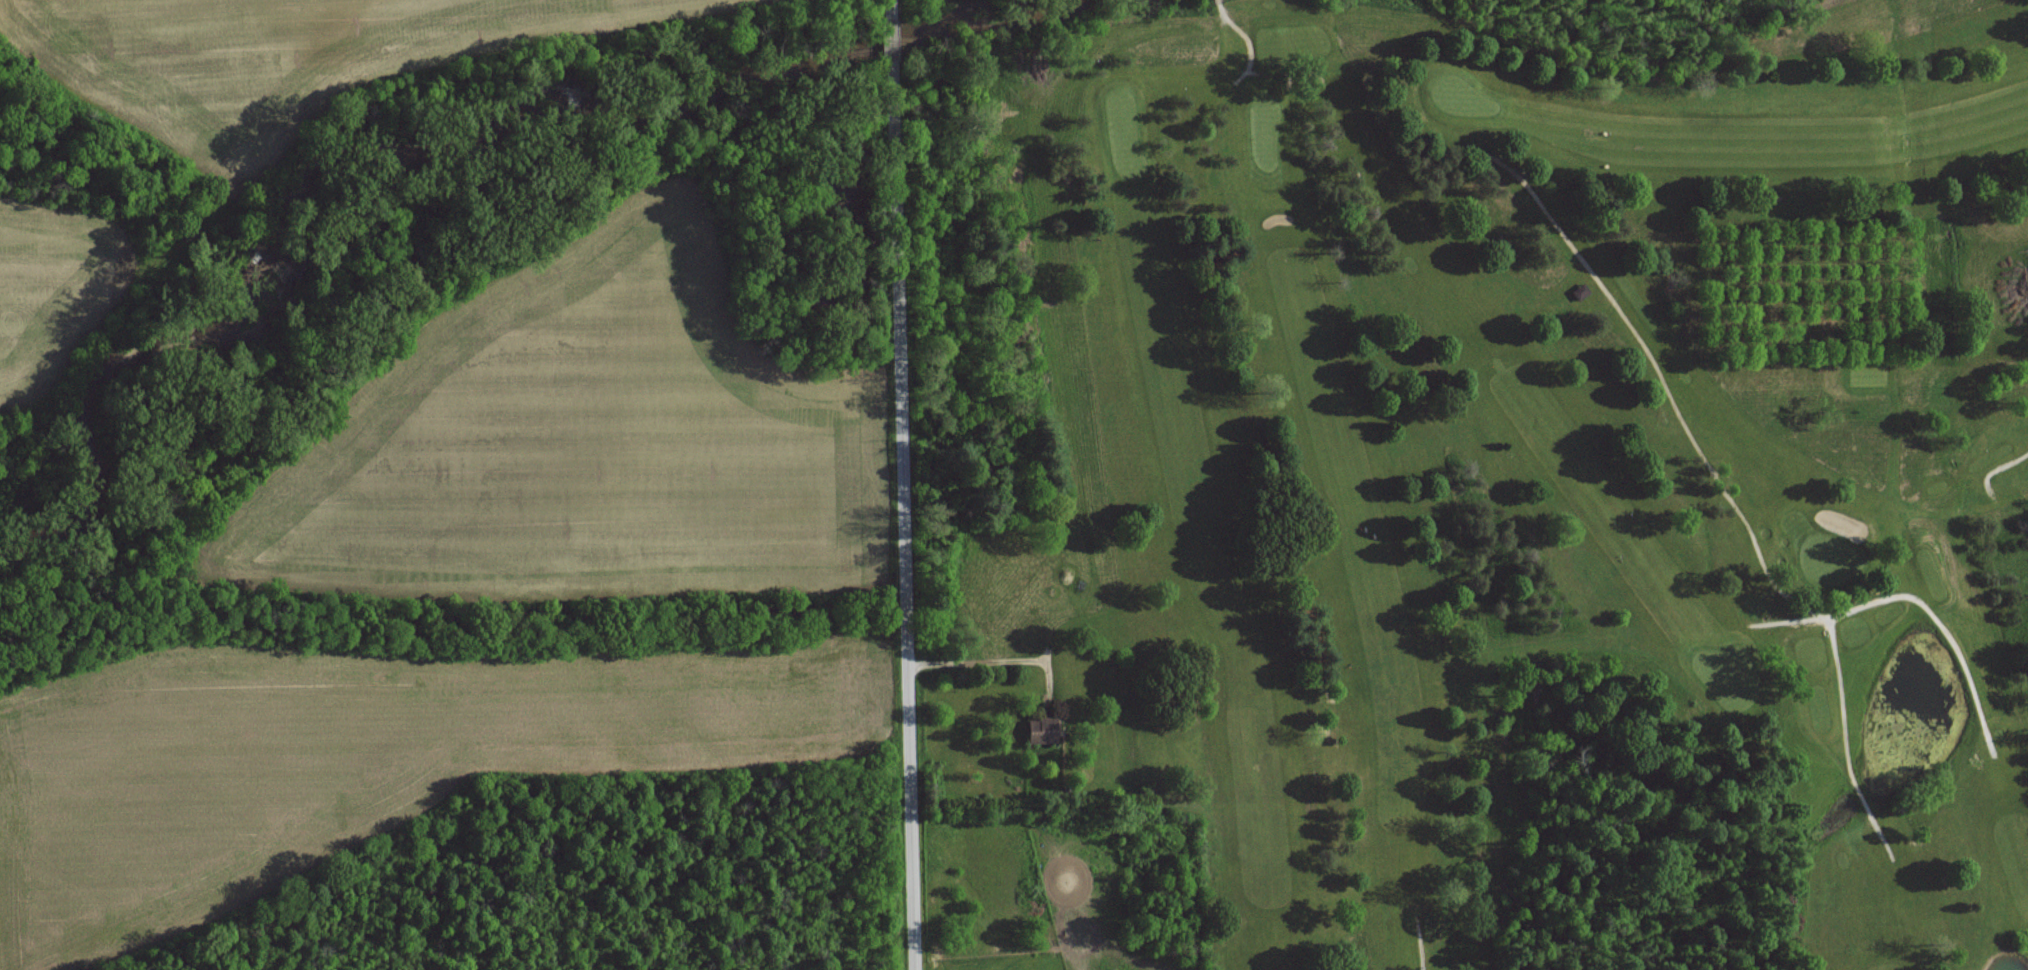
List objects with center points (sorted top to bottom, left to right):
park: (1564, 473)
road: (916, 484)
road: (1005, 655)
building: (1042, 729)

